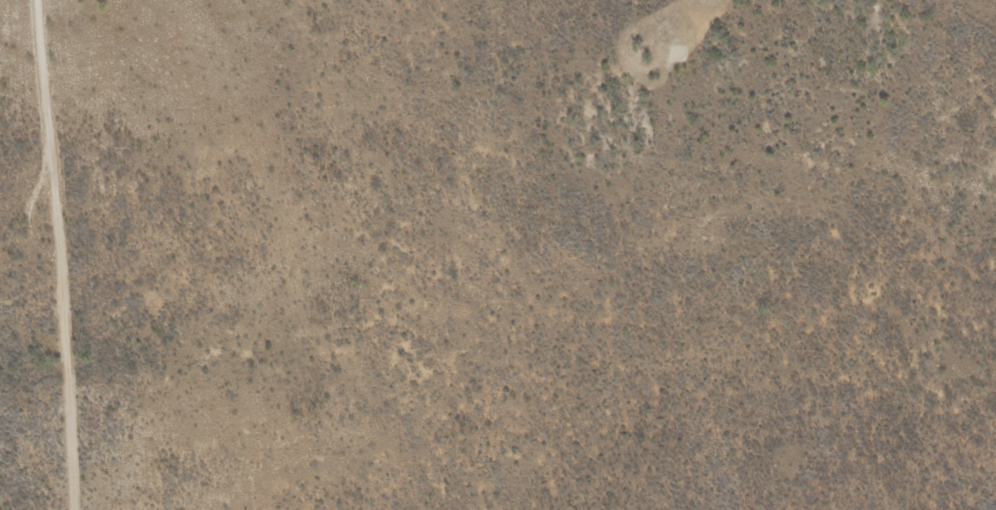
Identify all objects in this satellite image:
road: (63, 255)

